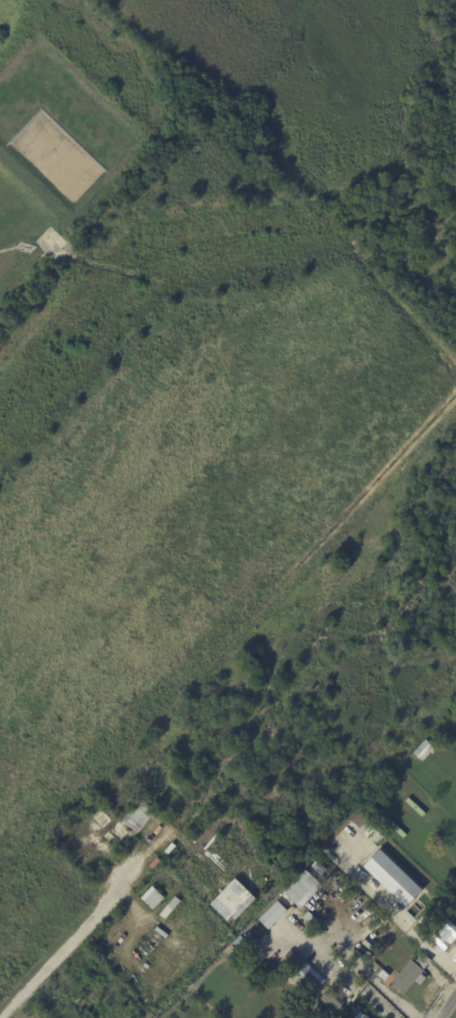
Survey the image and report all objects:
building: (426, 750)
building: (137, 814)
building: (358, 818)
building: (115, 826)
building: (123, 832)
building: (128, 837)
building: (171, 848)
building: (319, 869)
building: (392, 877)
building: (302, 888)
building: (155, 897)
building: (232, 900)
building: (172, 908)
building: (272, 914)
building: (311, 917)
building: (414, 930)
building: (447, 935)
road: (63, 946)
building: (303, 969)
building: (410, 972)
building: (335, 998)
road: (447, 1006)
building: (367, 1017)

